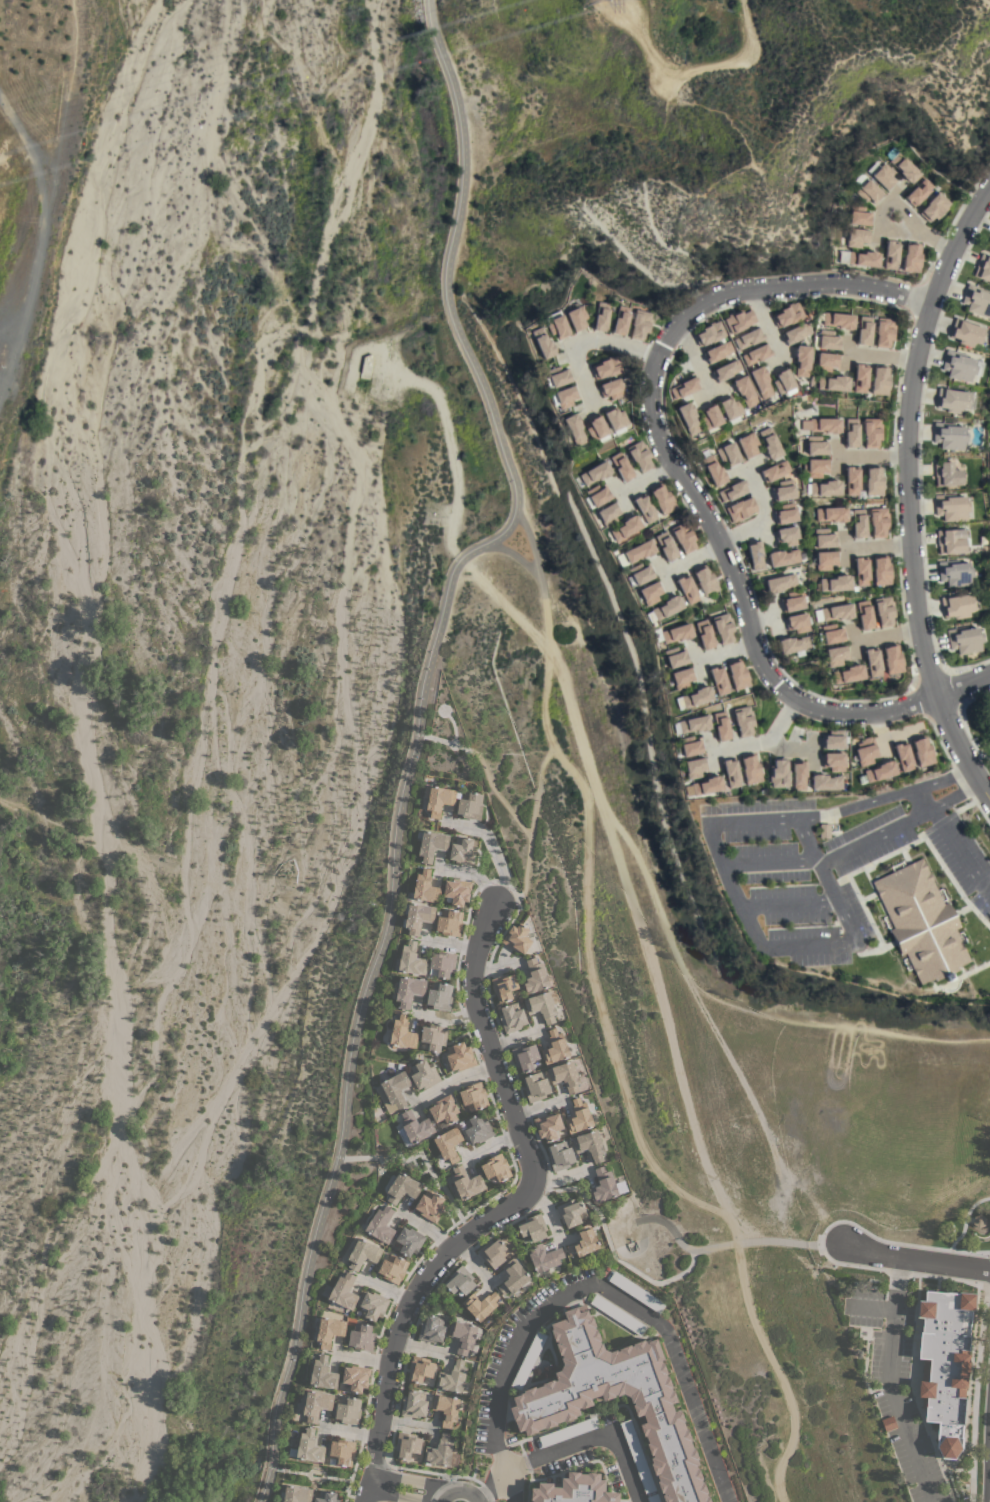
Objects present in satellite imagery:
building: (905, 168)
building: (882, 175)
building: (867, 189)
building: (918, 192)
building: (934, 207)
road: (898, 211)
building: (859, 216)
road: (891, 229)
road: (930, 237)
building: (857, 238)
building: (989, 243)
building: (890, 254)
building: (859, 258)
building: (911, 258)
building: (983, 268)
building: (977, 301)
building: (787, 315)
building: (601, 317)
building: (576, 318)
building: (620, 320)
building: (738, 320)
building: (838, 321)
building: (640, 325)
building: (555, 326)
road: (765, 326)
building: (864, 330)
building: (884, 332)
building: (795, 333)
building: (966, 333)
building: (709, 334)
building: (748, 338)
road: (582, 339)
building: (828, 340)
building: (541, 343)
building: (718, 352)
building: (755, 355)
road: (694, 356)
road: (875, 357)
building: (801, 361)
building: (826, 362)
building: (958, 366)
building: (365, 367)
building: (606, 367)
building: (725, 370)
building: (555, 377)
building: (860, 378)
building: (879, 380)
building: (760, 382)
building: (782, 382)
building: (833, 383)
building: (684, 388)
building: (611, 389)
building: (744, 392)
building: (563, 397)
building: (952, 400)
building: (729, 408)
building: (709, 417)
building: (615, 418)
building: (687, 418)
building: (822, 425)
building: (573, 429)
building: (596, 429)
building: (871, 432)
building: (851, 433)
building: (949, 436)
building: (770, 444)
building: (748, 445)
building: (816, 446)
building: (728, 454)
building: (640, 456)
road: (671, 463)
building: (621, 467)
building: (815, 468)
building: (713, 470)
building: (775, 471)
building: (594, 474)
building: (947, 474)
building: (989, 474)
building: (851, 480)
building: (873, 481)
building: (825, 488)
building: (783, 490)
building: (732, 491)
road: (909, 492)
building: (597, 495)
building: (662, 499)
building: (950, 507)
building: (644, 508)
building: (740, 509)
building: (607, 514)
building: (785, 514)
building: (831, 514)
road: (763, 515)
building: (878, 522)
building: (859, 523)
building: (625, 528)
building: (684, 536)
building: (787, 536)
building: (824, 539)
building: (951, 541)
building: (666, 546)
road: (871, 547)
building: (639, 551)
road: (535, 553)
road: (517, 555)
building: (755, 555)
building: (782, 558)
building: (825, 560)
building: (881, 570)
building: (861, 571)
building: (640, 573)
building: (954, 573)
building: (705, 581)
building: (780, 583)
building: (835, 583)
building: (686, 589)
building: (650, 593)
building: (792, 601)
building: (957, 606)
building: (666, 607)
building: (884, 611)
building: (837, 612)
building: (864, 615)
building: (797, 623)
building: (724, 629)
building: (676, 633)
building: (704, 634)
building: (832, 634)
building: (964, 640)
building: (793, 645)
building: (836, 656)
building: (674, 657)
building: (892, 659)
building: (872, 662)
building: (847, 674)
building: (737, 675)
building: (681, 678)
building: (718, 680)
road: (963, 686)
building: (695, 697)
building: (743, 721)
building: (693, 724)
building: (720, 726)
road: (415, 734)
road: (969, 737)
road: (436, 739)
building: (833, 740)
road: (765, 741)
building: (689, 746)
building: (865, 751)
building: (922, 752)
building: (903, 756)
building: (833, 762)
building: (693, 768)
building: (750, 769)
building: (730, 772)
building: (877, 772)
building: (778, 773)
building: (798, 775)
building: (825, 782)
building: (706, 786)
road: (492, 788)
road: (956, 797)
building: (438, 799)
road: (884, 800)
road: (927, 800)
road: (989, 801)
road: (989, 802)
building: (470, 805)
road: (753, 822)
building: (824, 831)
road: (529, 834)
building: (431, 844)
road: (492, 848)
building: (462, 850)
road: (960, 853)
road: (832, 858)
building: (425, 887)
building: (457, 891)
building: (418, 917)
building: (449, 922)
building: (921, 922)
building: (517, 938)
road: (586, 940)
road: (804, 946)
building: (410, 960)
building: (443, 963)
building: (534, 976)
building: (504, 986)
building: (409, 990)
building: (440, 996)
building: (541, 1006)
building: (512, 1017)
building: (402, 1033)
building: (434, 1036)
building: (555, 1047)
building: (460, 1056)
building: (525, 1056)
building: (424, 1074)
building: (565, 1075)
road: (454, 1080)
building: (536, 1086)
building: (393, 1091)
building: (474, 1096)
building: (444, 1109)
building: (579, 1116)
building: (548, 1125)
building: (414, 1128)
building: (477, 1128)
building: (448, 1144)
building: (589, 1144)
road: (420, 1154)
building: (560, 1155)
building: (496, 1167)
building: (466, 1182)
building: (603, 1185)
building: (402, 1187)
building: (430, 1205)
road: (498, 1209)
building: (571, 1212)
building: (381, 1224)
building: (533, 1227)
building: (409, 1240)
building: (584, 1241)
road: (731, 1243)
road: (610, 1247)
building: (493, 1252)
building: (363, 1253)
building: (544, 1256)
road: (915, 1257)
building: (393, 1268)
building: (514, 1277)
building: (460, 1280)
road: (603, 1290)
building: (344, 1291)
building: (636, 1291)
building: (480, 1304)
building: (373, 1305)
building: (618, 1314)
building: (431, 1329)
building: (329, 1330)
building: (463, 1336)
building: (361, 1337)
building: (528, 1360)
building: (945, 1364)
building: (420, 1368)
road: (777, 1372)
building: (323, 1373)
building: (356, 1377)
building: (452, 1377)
road: (888, 1381)
road: (974, 1394)
building: (316, 1404)
building: (413, 1404)
building: (551, 1404)
building: (446, 1408)
building: (348, 1410)
building: (888, 1423)
building: (568, 1431)
road: (588, 1439)
building: (407, 1444)
building: (309, 1447)
building: (342, 1451)
building: (439, 1451)
building: (637, 1456)
road: (288, 1470)
road: (322, 1476)
road: (345, 1479)
road: (989, 1486)
road: (486, 1489)
road: (508, 1489)
road: (406, 1490)
building: (575, 1490)
building: (297, 1494)
building: (326, 1496)
building: (653, 1498)

